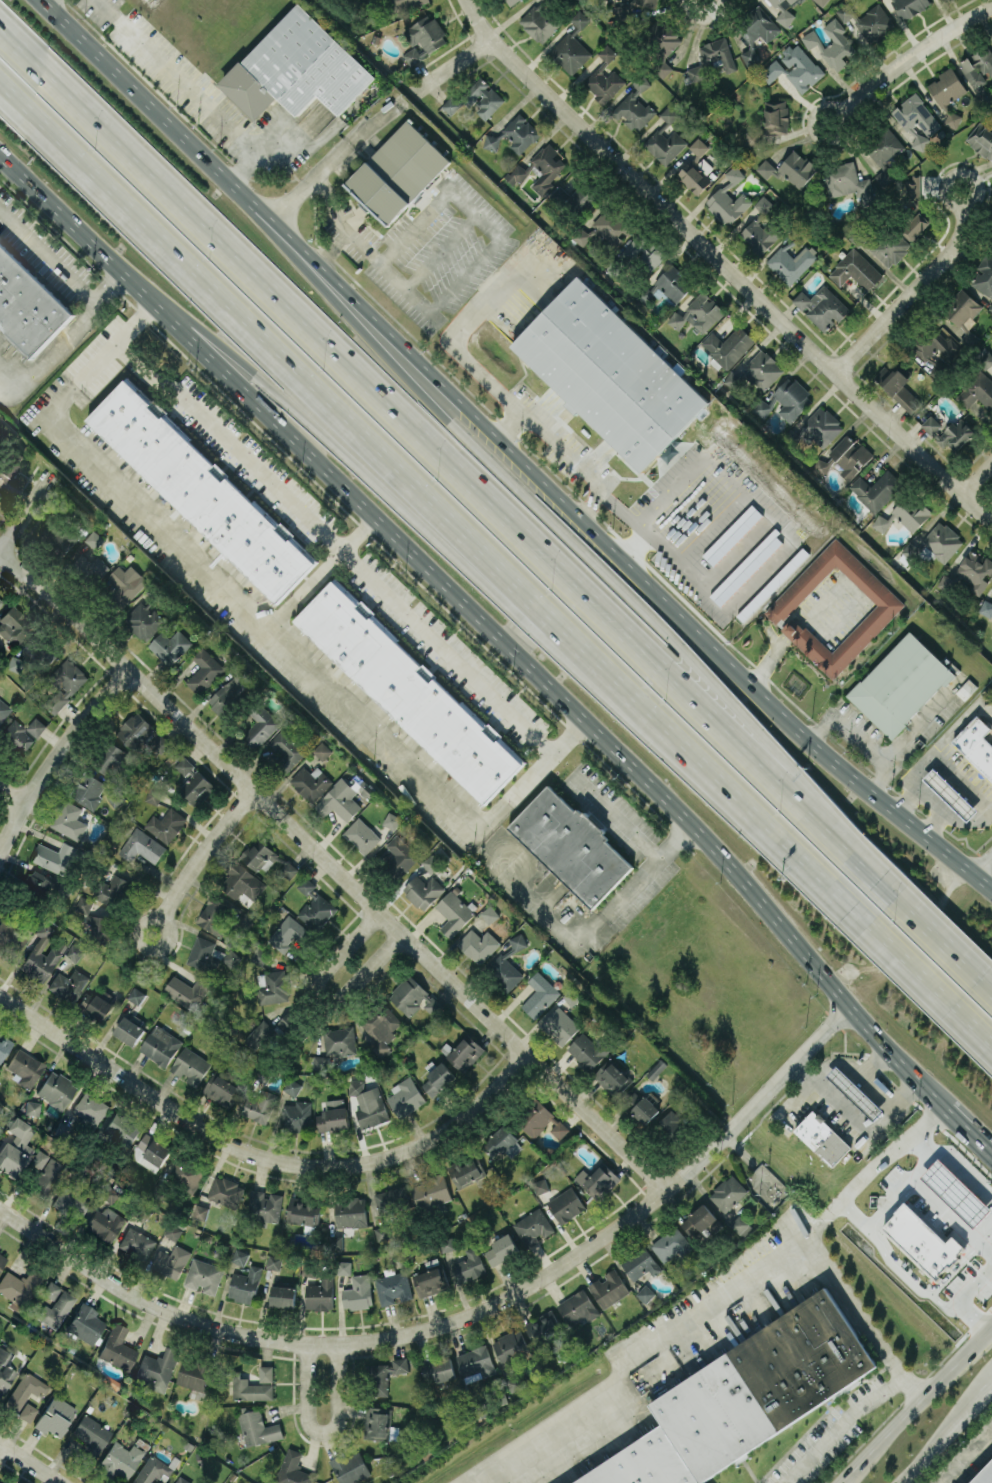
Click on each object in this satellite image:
building: (544, 0)
building: (511, 1)
building: (821, 2)
building: (403, 4)
building: (909, 7)
building: (784, 10)
building: (845, 12)
road: (703, 17)
building: (579, 19)
building: (539, 22)
building: (874, 23)
building: (759, 25)
building: (662, 36)
building: (423, 38)
building: (832, 45)
building: (569, 53)
building: (607, 53)
road: (914, 54)
building: (749, 56)
building: (712, 58)
road: (454, 66)
building: (978, 67)
building: (297, 68)
building: (665, 68)
building: (796, 68)
road: (179, 80)
building: (604, 82)
building: (947, 87)
building: (483, 98)
building: (451, 104)
building: (633, 106)
building: (669, 114)
building: (776, 116)
road: (846, 119)
building: (917, 119)
building: (516, 134)
building: (981, 139)
building: (665, 145)
building: (698, 146)
building: (884, 152)
road: (324, 167)
building: (547, 168)
building: (790, 168)
road: (237, 171)
building: (397, 172)
building: (734, 174)
building: (694, 179)
building: (846, 180)
building: (911, 187)
building: (575, 199)
road: (953, 203)
building: (728, 204)
building: (916, 225)
building: (611, 226)
building: (761, 229)
building: (583, 235)
building: (883, 246)
building: (644, 252)
road: (46, 255)
building: (549, 255)
building: (791, 262)
road: (725, 263)
building: (855, 270)
building: (984, 276)
road: (464, 277)
building: (668, 286)
road: (909, 293)
building: (27, 306)
building: (821, 306)
building: (990, 306)
building: (699, 313)
building: (963, 315)
road: (65, 340)
building: (728, 346)
building: (923, 353)
road: (98, 358)
building: (990, 363)
building: (757, 371)
building: (610, 373)
building: (897, 387)
road: (376, 390)
building: (977, 391)
building: (792, 398)
road: (514, 404)
building: (762, 408)
road: (508, 423)
building: (823, 427)
road: (326, 428)
building: (949, 431)
road: (504, 444)
building: (845, 458)
building: (8, 463)
road: (978, 479)
road: (505, 487)
building: (876, 489)
building: (199, 491)
road: (430, 494)
road: (25, 514)
building: (904, 515)
road: (634, 523)
building: (65, 536)
building: (94, 539)
building: (942, 540)
road: (334, 544)
building: (95, 569)
building: (974, 570)
road: (319, 572)
road: (433, 572)
building: (945, 582)
building: (124, 584)
building: (1, 601)
building: (886, 607)
building: (986, 608)
building: (144, 620)
road: (259, 623)
building: (13, 626)
building: (170, 645)
building: (40, 650)
building: (13, 663)
building: (205, 670)
building: (63, 684)
building: (900, 684)
building: (408, 692)
building: (229, 696)
building: (3, 709)
road: (930, 713)
road: (958, 722)
building: (259, 728)
road: (847, 728)
building: (135, 730)
building: (19, 736)
building: (976, 744)
building: (322, 750)
road: (55, 752)
road: (891, 759)
building: (108, 760)
building: (183, 765)
road: (949, 767)
road: (529, 776)
building: (310, 782)
building: (196, 787)
building: (87, 790)
road: (9, 794)
building: (950, 794)
building: (339, 800)
road: (940, 805)
road: (613, 814)
building: (67, 820)
building: (391, 820)
road: (936, 821)
building: (166, 824)
road: (815, 824)
building: (361, 835)
building: (142, 846)
building: (571, 846)
road: (204, 853)
road: (504, 853)
building: (258, 854)
building: (397, 856)
building: (53, 857)
building: (430, 862)
road: (985, 868)
building: (288, 869)
road: (333, 869)
road: (985, 880)
building: (243, 883)
building: (34, 885)
building: (306, 885)
building: (422, 890)
building: (112, 891)
road: (548, 892)
building: (83, 906)
building: (317, 911)
building: (453, 912)
building: (489, 913)
road: (153, 916)
road: (595, 920)
building: (100, 929)
building: (288, 933)
building: (10, 936)
building: (517, 941)
building: (477, 944)
road: (937, 946)
building: (73, 952)
building: (40, 954)
building: (209, 954)
building: (503, 972)
road: (929, 972)
building: (68, 984)
building: (274, 987)
building: (187, 991)
road: (321, 992)
building: (136, 995)
building: (539, 995)
building: (572, 995)
building: (414, 997)
building: (98, 1008)
building: (288, 1023)
building: (383, 1023)
building: (560, 1025)
building: (129, 1030)
building: (258, 1033)
building: (339, 1041)
building: (3, 1045)
building: (160, 1045)
road: (804, 1049)
building: (588, 1050)
building: (465, 1052)
road: (898, 1052)
road: (876, 1059)
building: (320, 1061)
building: (23, 1066)
building: (190, 1066)
building: (656, 1068)
road: (858, 1071)
building: (612, 1078)
building: (437, 1079)
building: (292, 1086)
building: (55, 1089)
building: (221, 1090)
building: (855, 1092)
building: (404, 1097)
building: (631, 1099)
building: (368, 1104)
building: (31, 1106)
building: (259, 1106)
building: (647, 1106)
building: (88, 1108)
building: (333, 1115)
road: (960, 1115)
building: (299, 1116)
building: (535, 1118)
road: (861, 1120)
building: (670, 1125)
building: (121, 1129)
building: (559, 1129)
building: (822, 1137)
road: (982, 1137)
building: (502, 1142)
building: (15, 1147)
building: (150, 1152)
road: (259, 1156)
road: (952, 1163)
road: (872, 1166)
road: (920, 1166)
building: (46, 1171)
building: (467, 1171)
building: (185, 1174)
building: (600, 1180)
building: (539, 1185)
building: (225, 1191)
building: (431, 1192)
building: (728, 1192)
building: (956, 1192)
building: (391, 1200)
building: (70, 1202)
road: (889, 1202)
building: (265, 1204)
building: (566, 1204)
building: (200, 1211)
building: (303, 1211)
building: (350, 1212)
road: (854, 1212)
road: (951, 1216)
building: (701, 1221)
building: (103, 1223)
building: (533, 1226)
building: (173, 1231)
building: (382, 1232)
building: (921, 1240)
building: (136, 1243)
building: (671, 1244)
building: (501, 1249)
building: (239, 1256)
building: (1, 1258)
building: (171, 1261)
building: (274, 1261)
building: (640, 1263)
building: (469, 1265)
building: (343, 1267)
building: (308, 1269)
building: (204, 1275)
road: (909, 1276)
road: (974, 1280)
building: (430, 1281)
building: (245, 1284)
building: (18, 1285)
building: (393, 1288)
building: (608, 1288)
building: (358, 1292)
building: (645, 1292)
building: (320, 1294)
building: (283, 1295)
building: (54, 1303)
building: (577, 1307)
road: (978, 1314)
road: (864, 1322)
building: (85, 1323)
building: (541, 1326)
road: (402, 1334)
building: (511, 1346)
building: (116, 1347)
road: (637, 1356)
building: (476, 1363)
building: (157, 1367)
building: (5, 1369)
building: (438, 1370)
building: (194, 1373)
building: (266, 1373)
building: (385, 1374)
road: (988, 1387)
building: (249, 1389)
building: (25, 1394)
building: (746, 1397)
road: (916, 1404)
building: (54, 1415)
building: (377, 1422)
road: (839, 1425)
building: (258, 1428)
road: (322, 1432)
building: (90, 1435)
road: (942, 1437)
road: (964, 1455)
building: (119, 1459)
road: (32, 1461)
building: (350, 1467)
building: (152, 1469)
building: (291, 1469)
building: (984, 1474)
building: (182, 1480)
road: (841, 1482)

